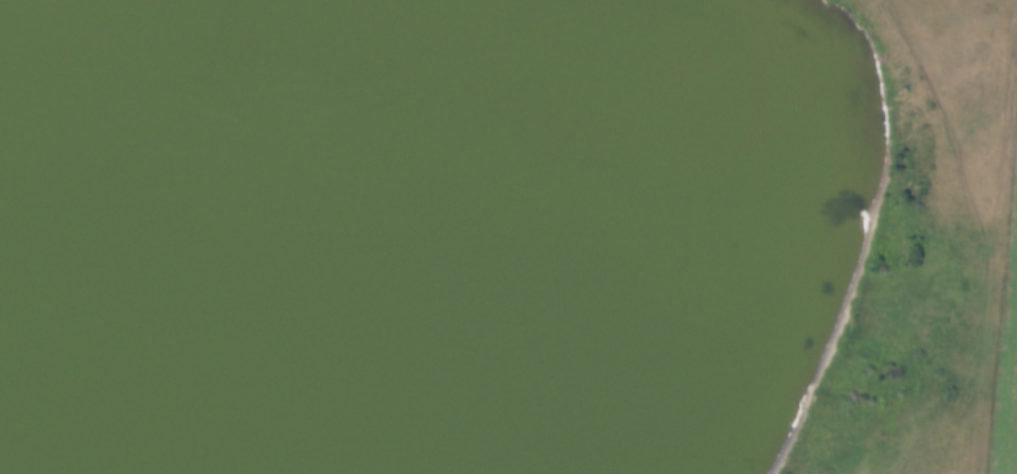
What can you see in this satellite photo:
road: (972, 227)

